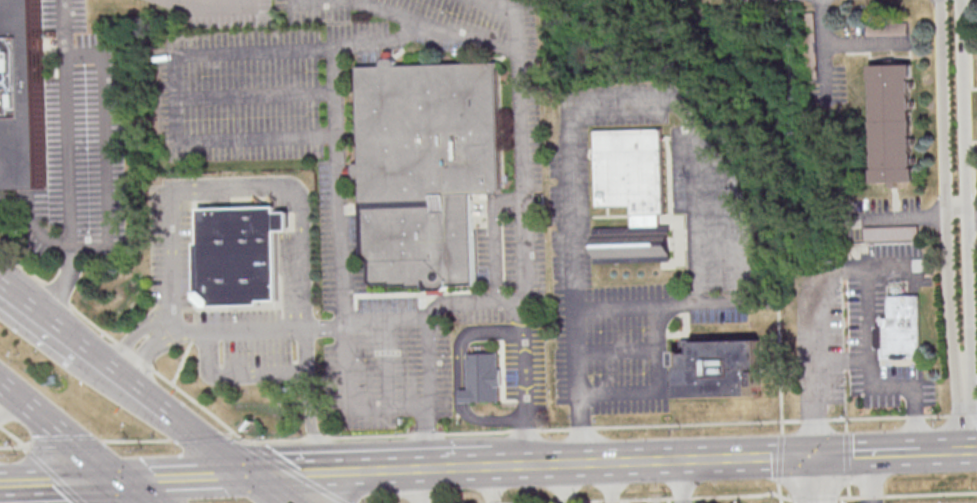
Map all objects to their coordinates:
road: (237, 1)
road: (409, 19)
building: (886, 27)
road: (864, 43)
building: (808, 44)
road: (824, 71)
building: (24, 95)
road: (174, 98)
building: (893, 123)
road: (66, 126)
road: (104, 149)
building: (425, 168)
road: (969, 184)
road: (948, 185)
road: (526, 190)
building: (633, 195)
road: (297, 197)
road: (959, 205)
road: (574, 207)
road: (973, 214)
road: (909, 219)
road: (35, 226)
road: (340, 230)
building: (891, 232)
road: (737, 240)
road: (526, 248)
building: (238, 254)
road: (172, 258)
road: (893, 264)
road: (867, 271)
road: (696, 285)
road: (59, 286)
road: (525, 301)
road: (40, 314)
road: (239, 325)
building: (903, 329)
road: (427, 332)
road: (133, 334)
road: (468, 334)
road: (147, 352)
road: (846, 360)
road: (105, 364)
building: (721, 370)
road: (234, 374)
building: (483, 379)
road: (662, 389)
road: (310, 399)
road: (7, 404)
road: (344, 407)
road: (965, 408)
road: (847, 424)
road: (0, 426)
road: (783, 426)
road: (189, 429)
road: (231, 432)
road: (456, 432)
road: (62, 433)
road: (200, 436)
road: (137, 440)
road: (65, 443)
road: (529, 443)
road: (24, 444)
road: (947, 449)
road: (871, 453)
traffic signals: (823, 455)
road: (849, 456)
road: (780, 457)
road: (660, 461)
road: (372, 470)
road: (297, 471)
road: (55, 474)
traffic signals: (248, 475)
road: (185, 478)
road: (873, 478)
road: (823, 479)
road: (686, 481)
traffic signals: (123, 482)
road: (61, 483)
road: (572, 483)
road: (611, 483)
road: (498, 485)
road: (424, 486)
road: (266, 489)
road: (850, 489)
road: (136, 492)
road: (779, 492)
road: (0, 494)
road: (907, 494)
road: (645, 497)
road: (813, 497)
road: (669, 500)
road: (841, 500)

